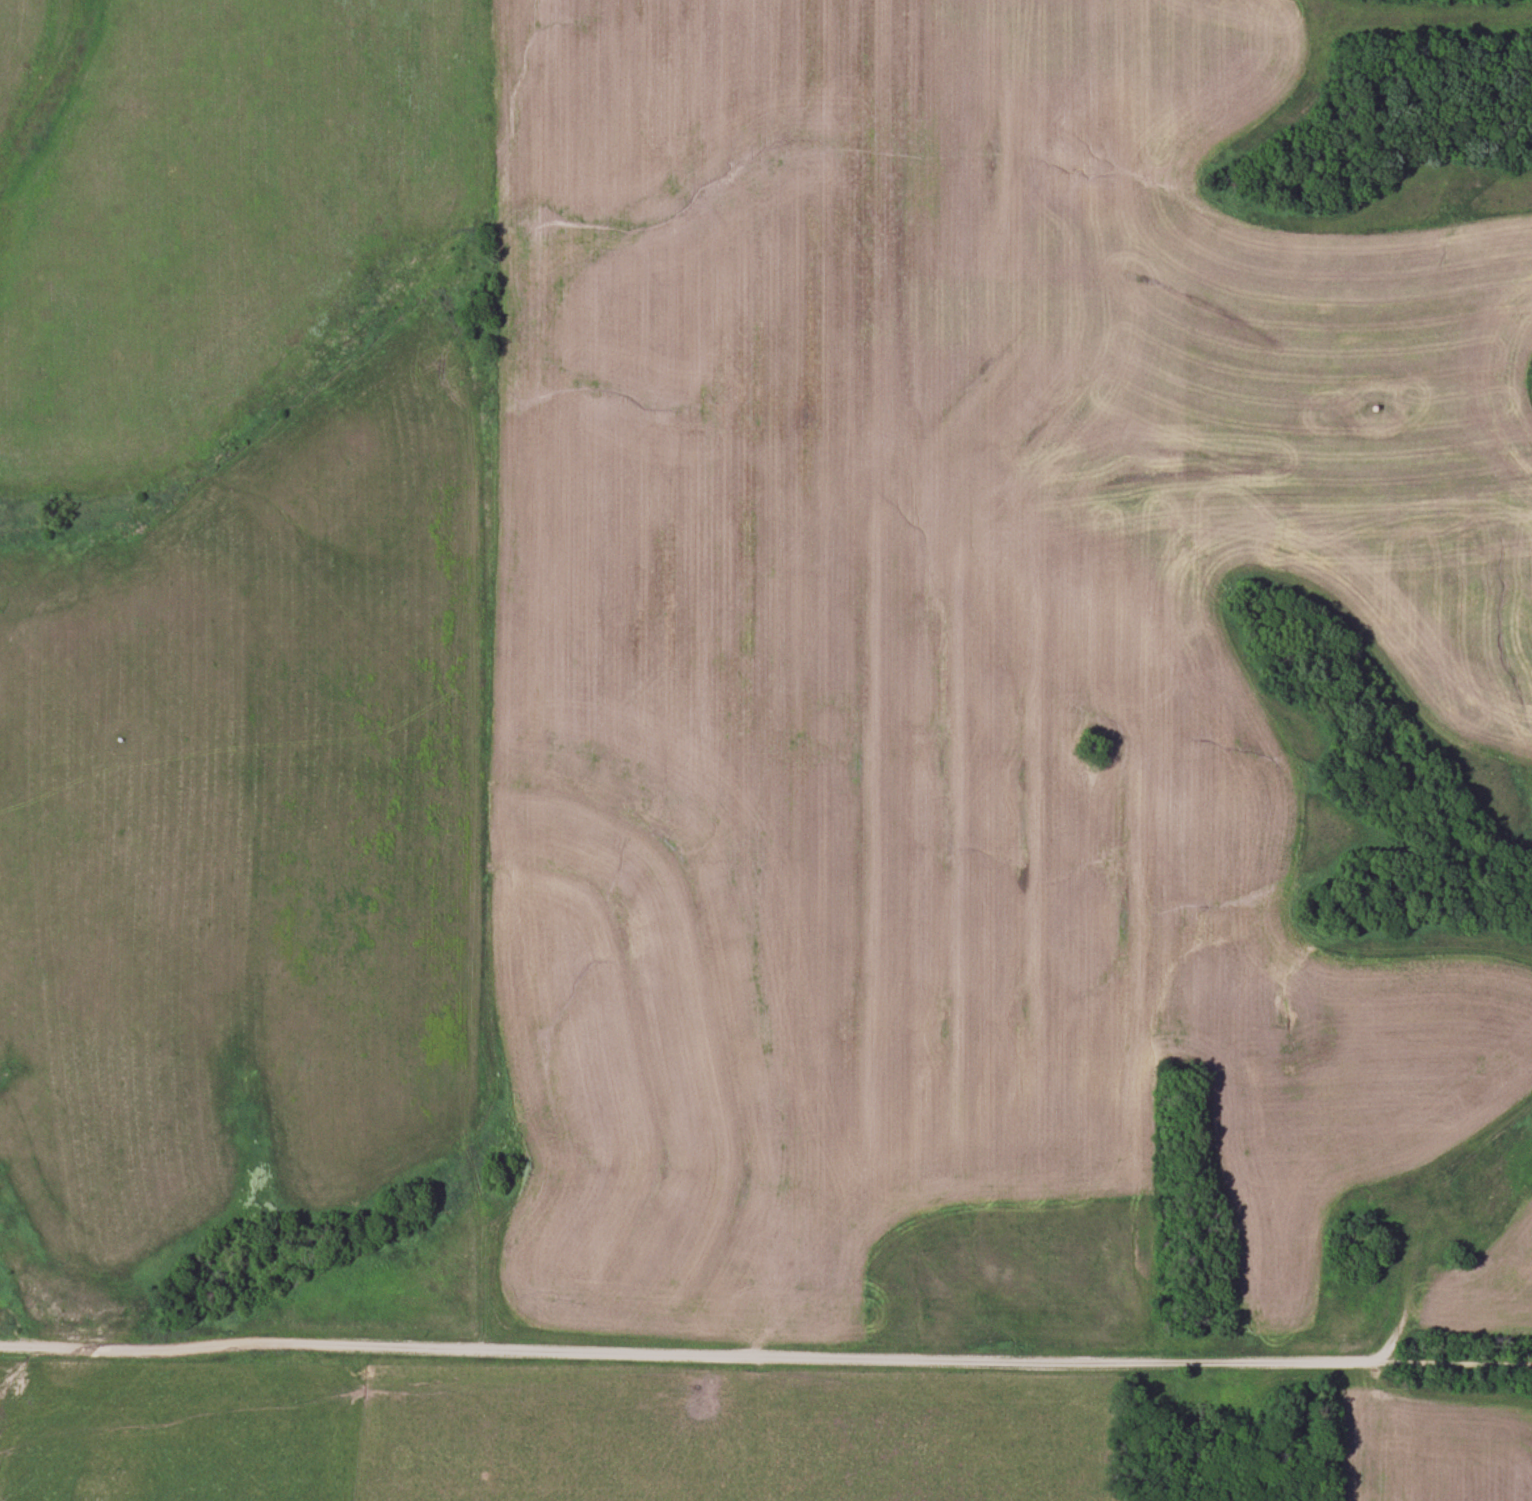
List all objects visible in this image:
road: (686, 1357)

